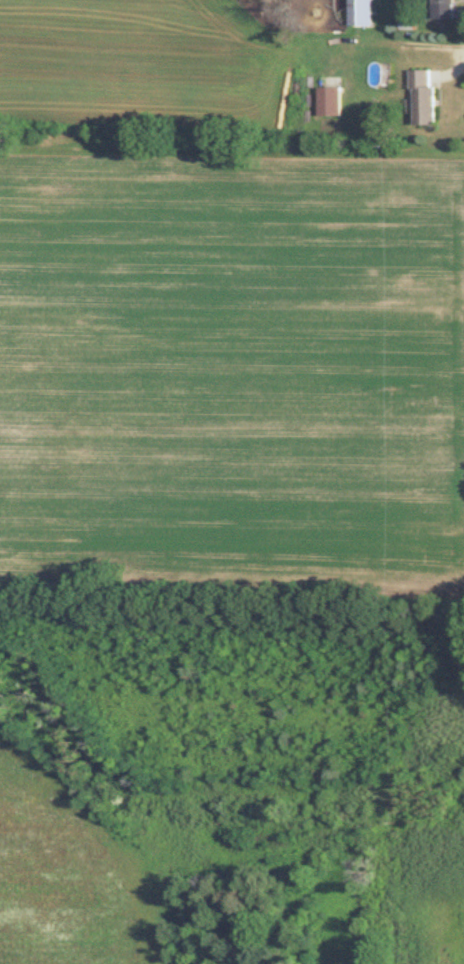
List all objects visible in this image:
building: (449, 9)
building: (366, 12)
building: (430, 97)
building: (335, 101)

